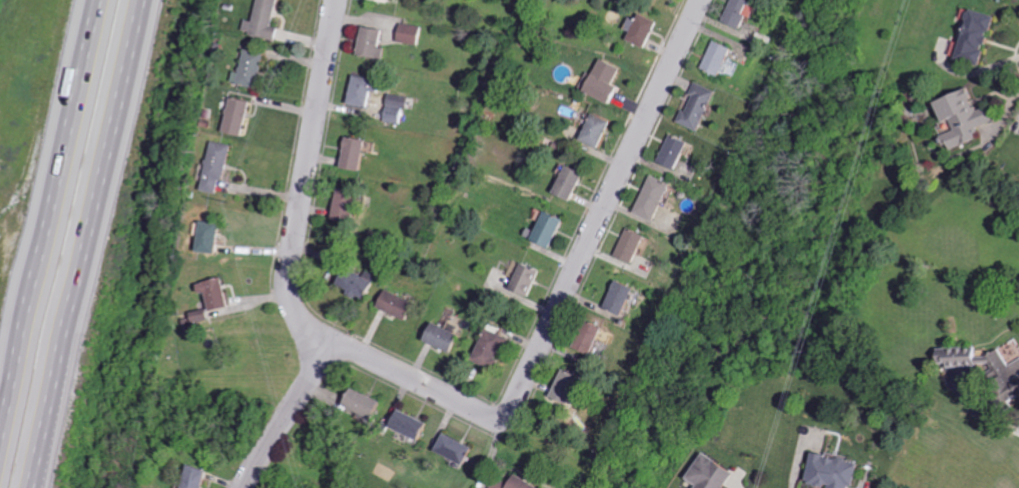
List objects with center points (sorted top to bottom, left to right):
building: (388, 1)
building: (746, 12)
building: (266, 20)
building: (645, 29)
building: (413, 34)
building: (978, 38)
building: (376, 43)
building: (722, 57)
building: (252, 70)
building: (606, 82)
building: (369, 90)
building: (703, 107)
building: (400, 108)
building: (239, 117)
building: (967, 119)
building: (600, 132)
building: (678, 152)
building: (359, 154)
building: (219, 166)
road: (301, 180)
building: (574, 183)
building: (657, 198)
building: (349, 204)
road: (606, 207)
road: (50, 221)
building: (553, 229)
building: (213, 237)
road: (88, 243)
building: (635, 245)
building: (529, 279)
building: (361, 282)
building: (219, 294)
building: (626, 298)
building: (400, 305)
building: (203, 315)
building: (445, 338)
building: (595, 338)
building: (493, 348)
building: (981, 362)
road: (418, 383)
building: (572, 387)
building: (368, 403)
road: (291, 414)
building: (413, 425)
building: (459, 449)
building: (836, 471)
building: (714, 473)
building: (201, 476)
building: (527, 483)
road: (739, 484)

